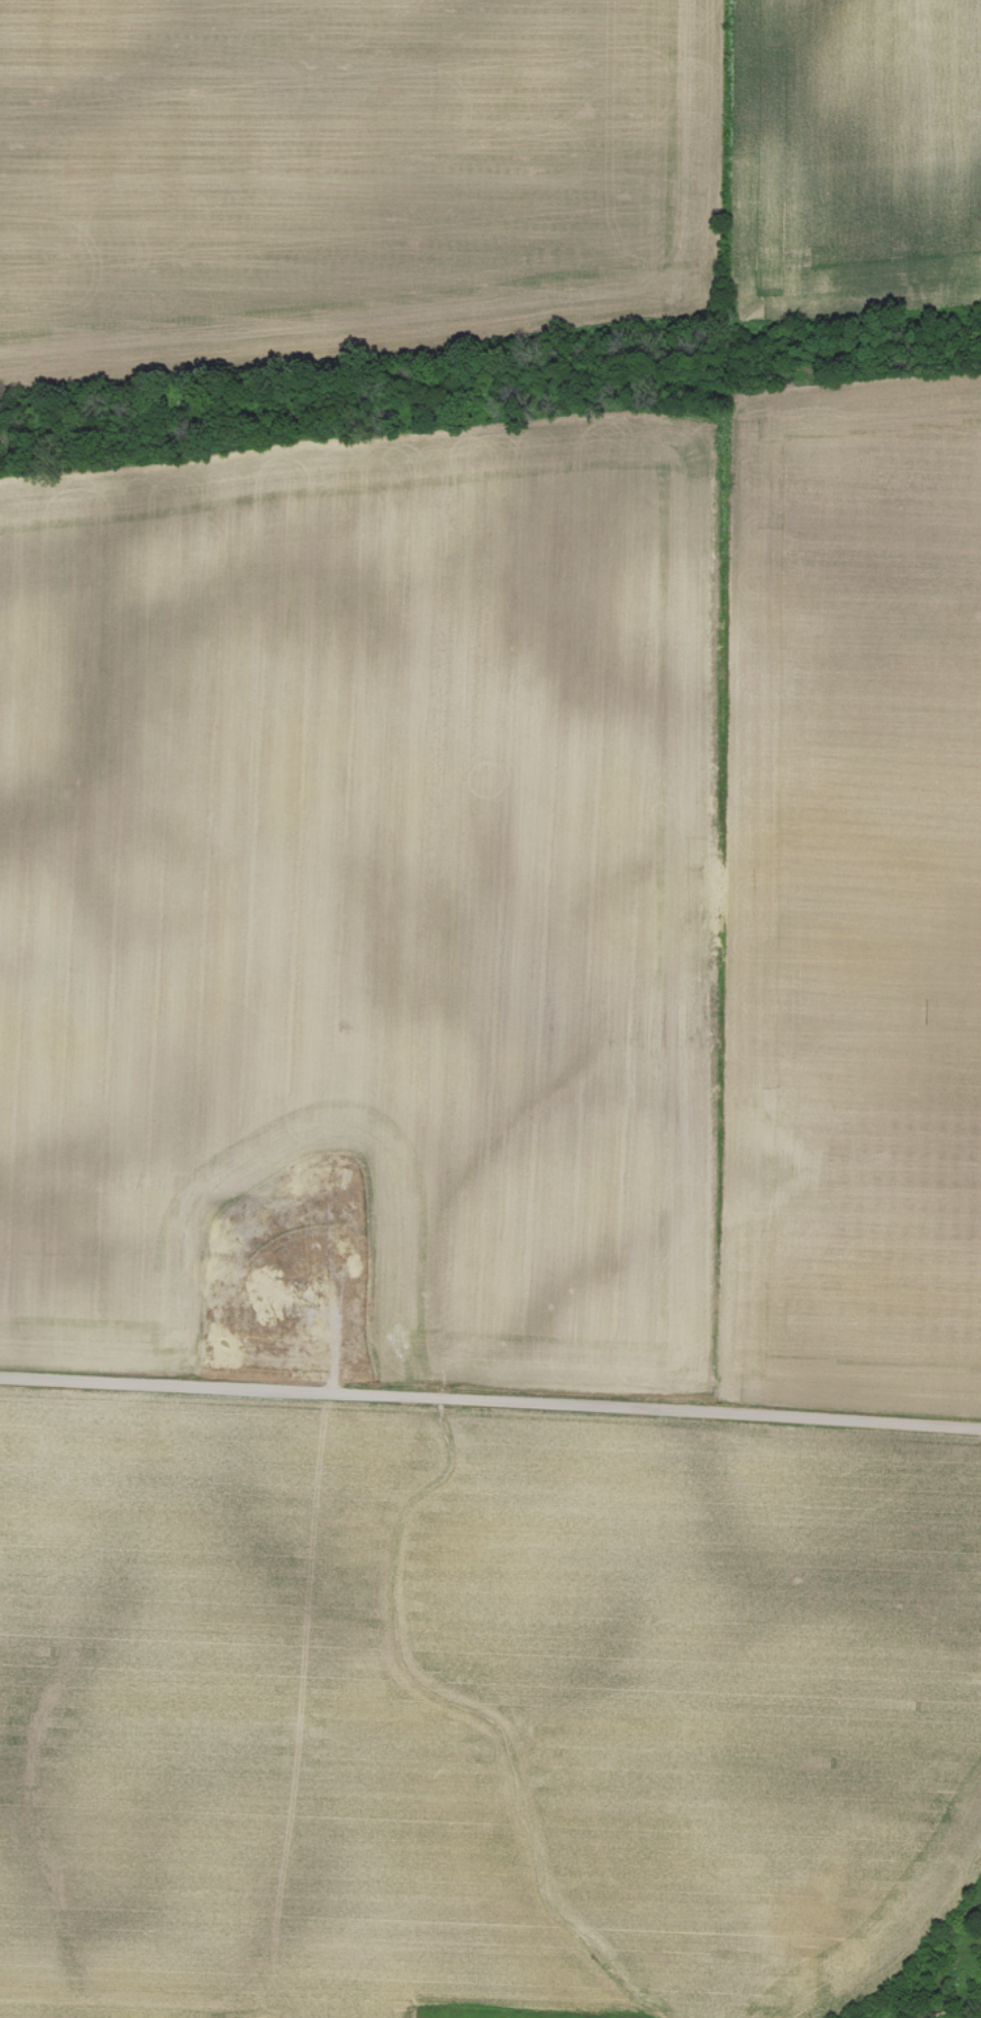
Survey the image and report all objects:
road: (490, 1406)

